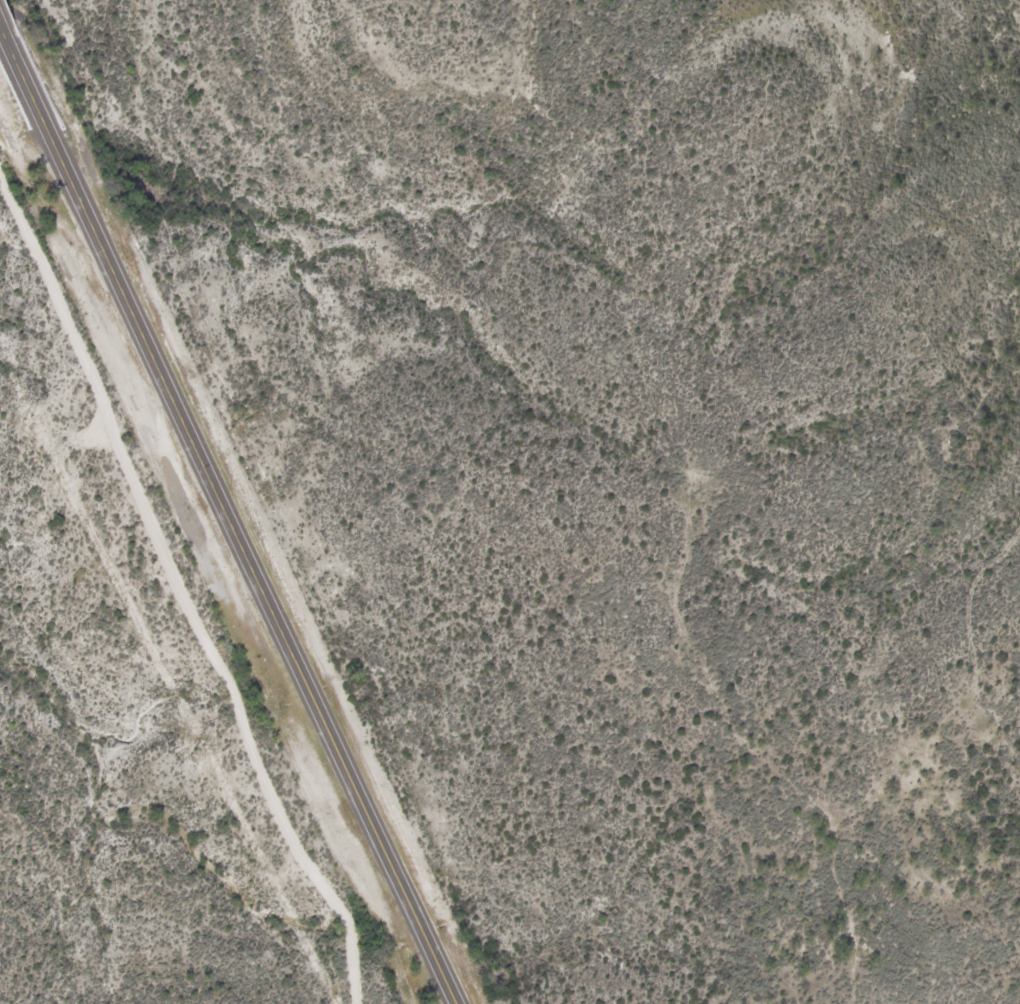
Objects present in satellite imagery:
power tower: (24, 420)
road: (232, 521)
power tower: (198, 749)

